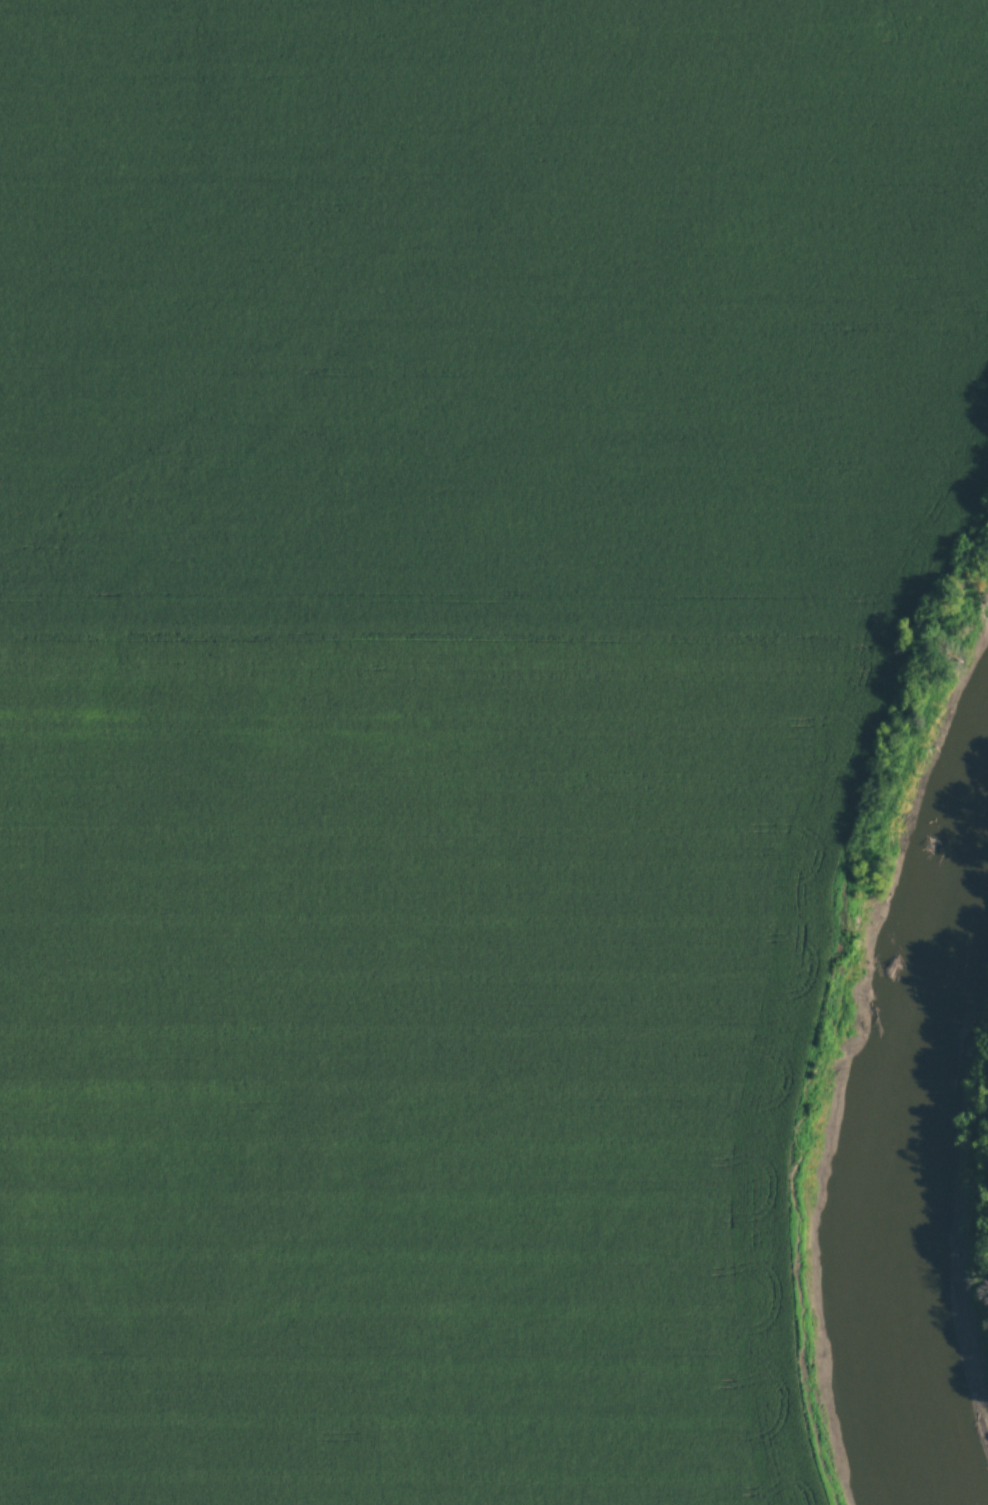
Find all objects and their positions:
river: (906, 1148)

